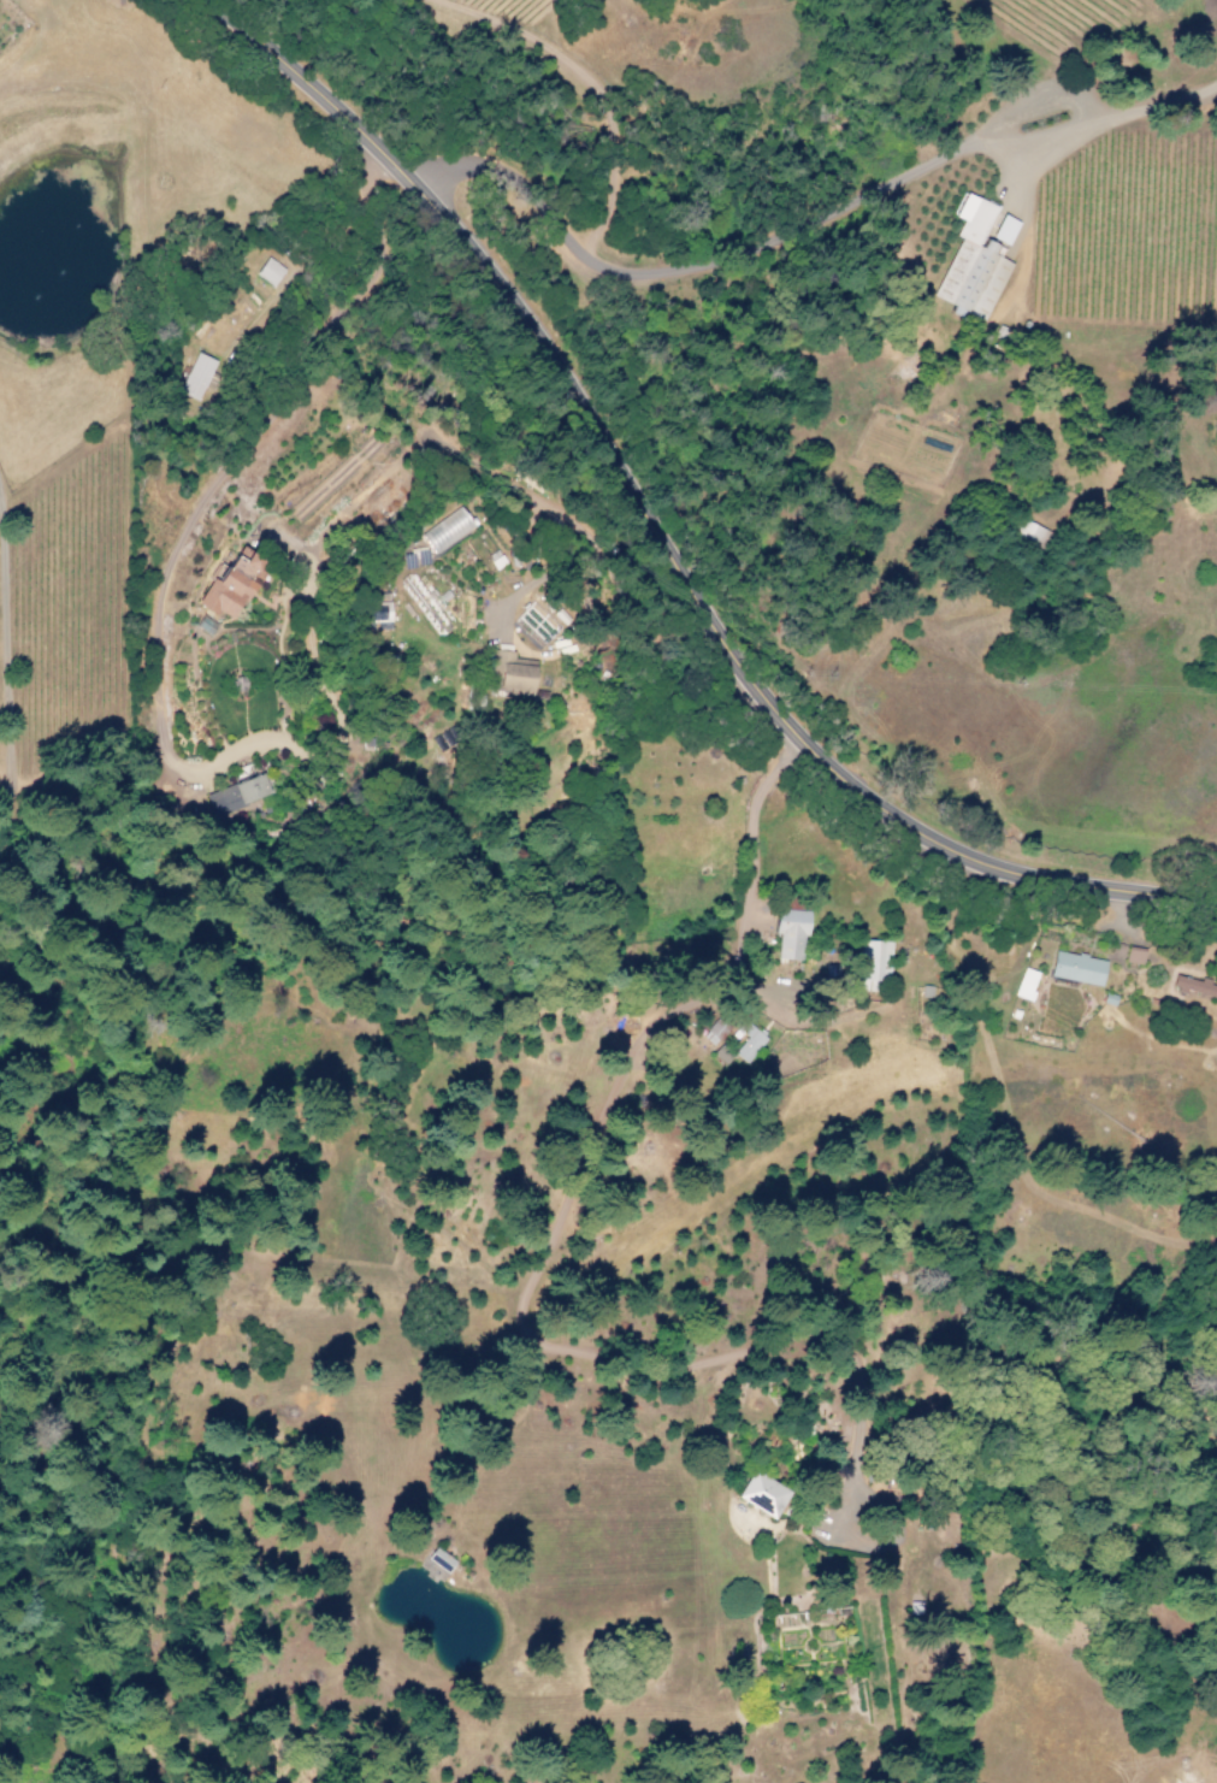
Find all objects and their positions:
building: (1004, 229)
building: (973, 262)
road: (698, 267)
building: (268, 271)
building: (196, 377)
building: (445, 530)
building: (1028, 532)
road: (663, 535)
building: (231, 584)
building: (534, 624)
building: (512, 672)
building: (236, 793)
building: (788, 934)
building: (1133, 956)
building: (873, 963)
building: (1076, 968)
building: (1026, 984)
building: (1194, 986)
building: (713, 1032)
building: (745, 1041)
building: (1213, 1210)
building: (761, 1494)
building: (438, 1559)
building: (432, 1569)

